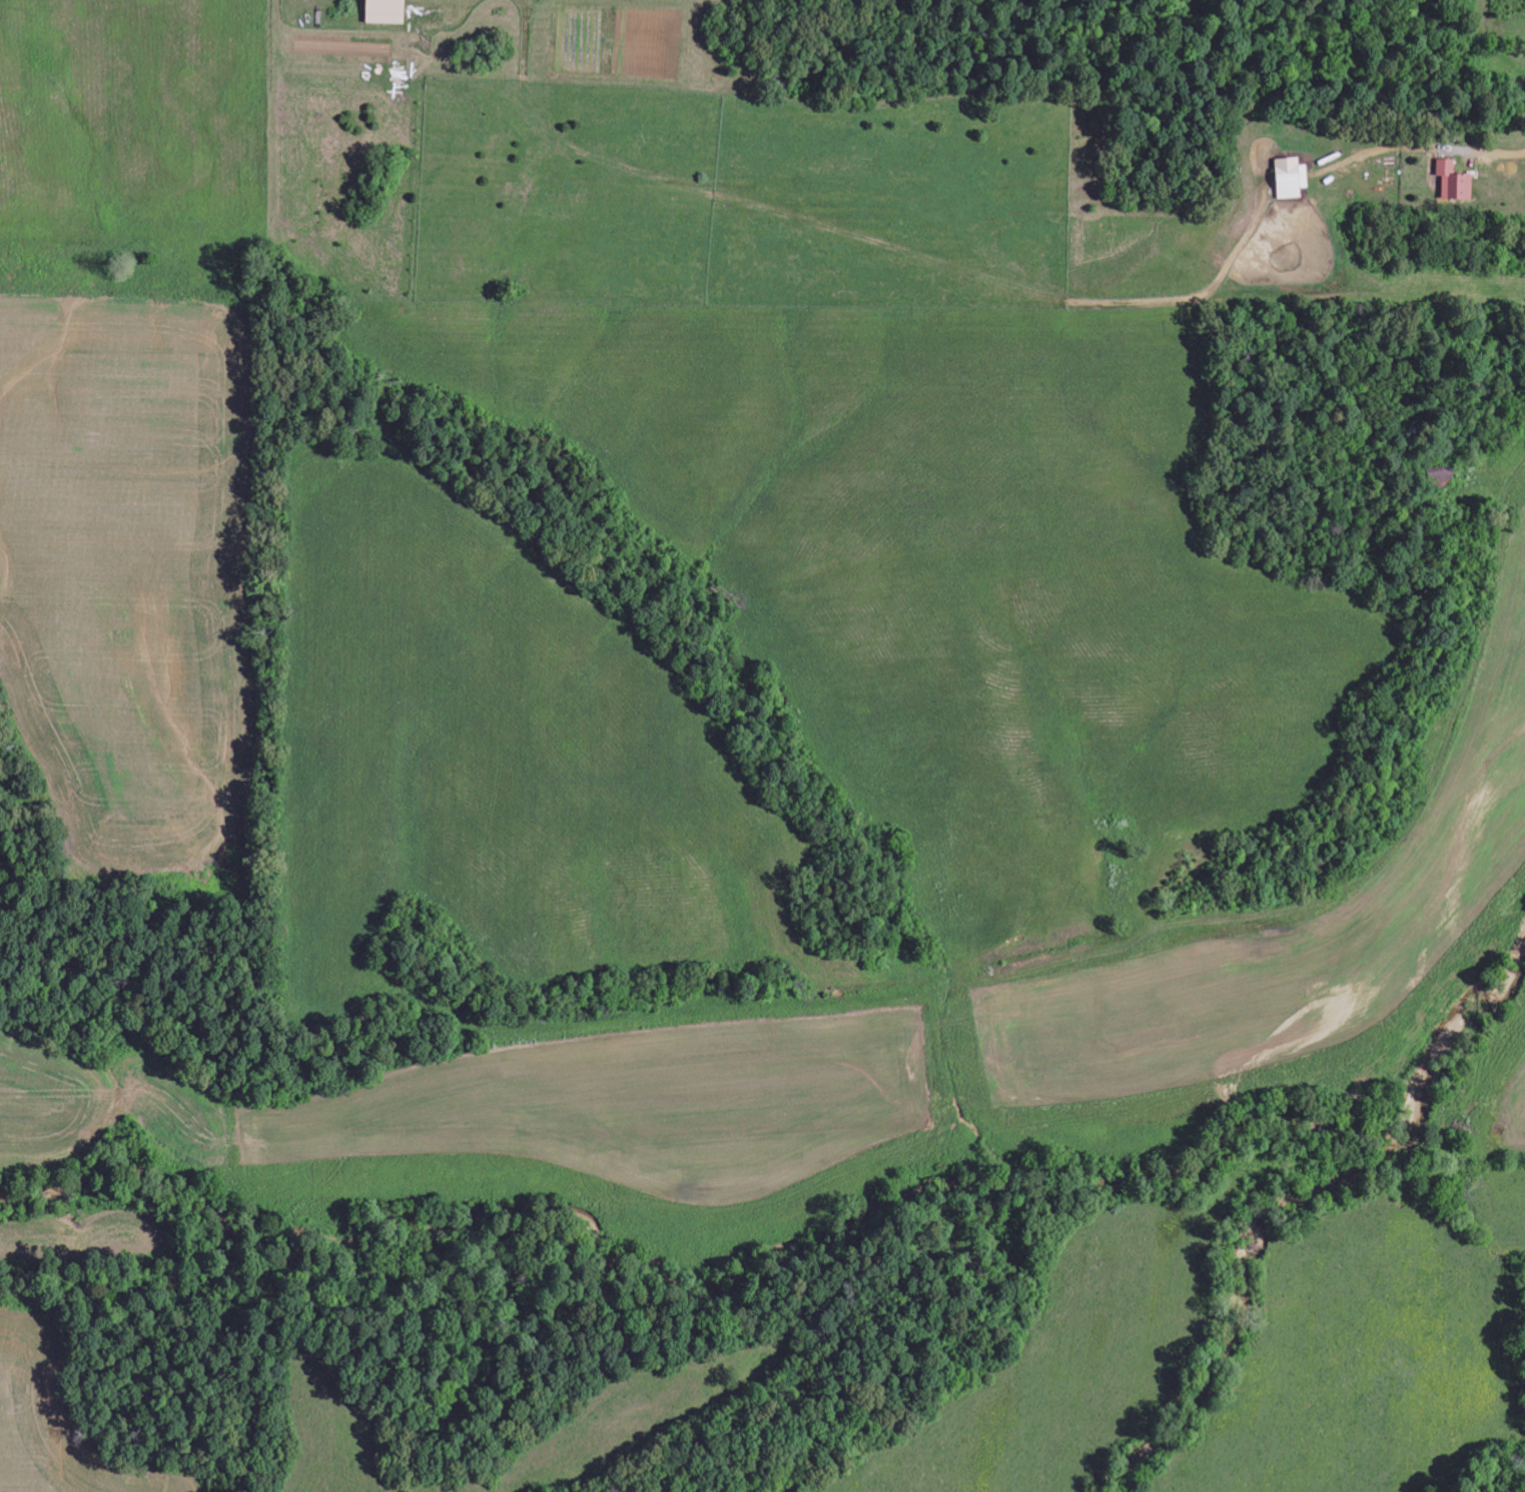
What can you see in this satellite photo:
building: (386, 12)
building: (1454, 181)

